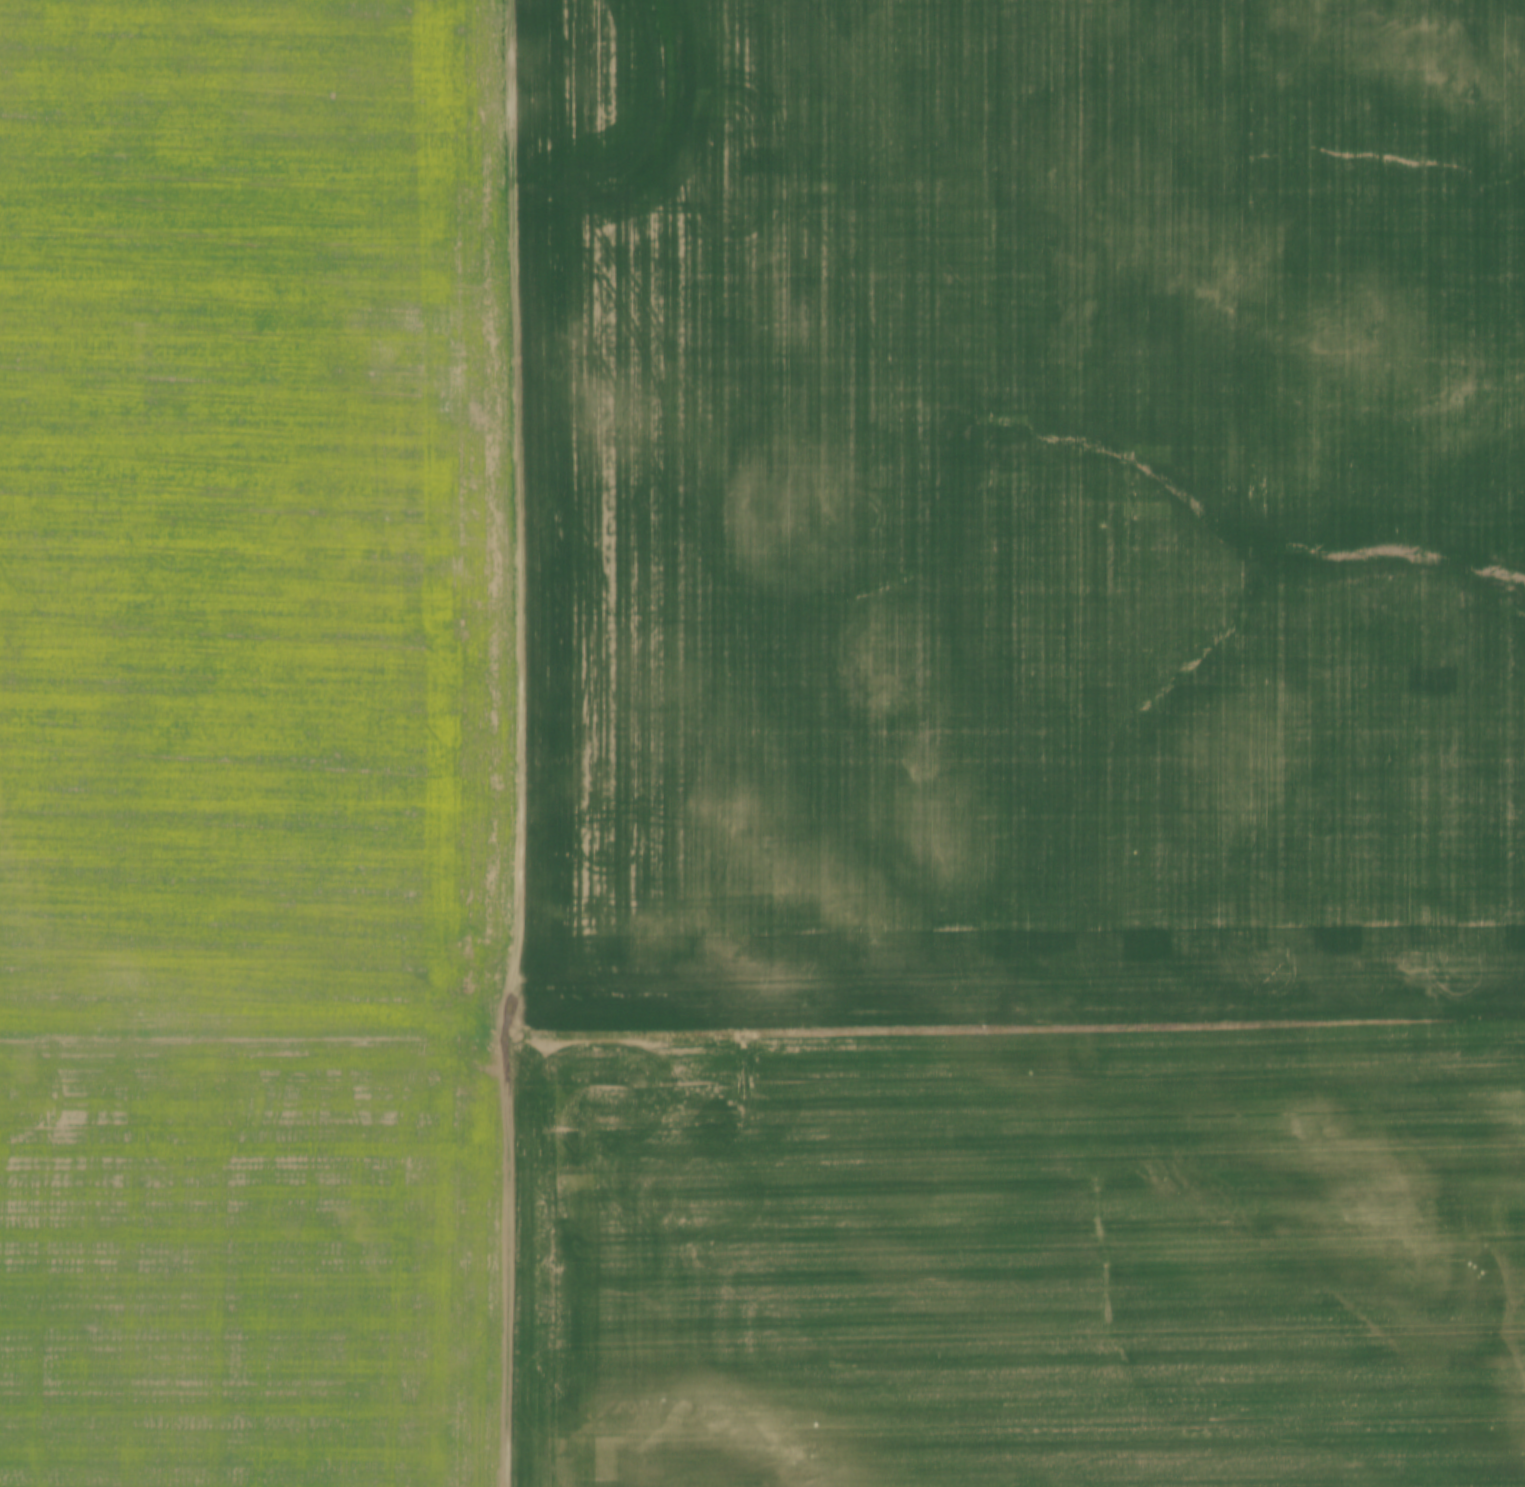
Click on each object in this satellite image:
road: (522, 743)
road: (255, 1016)

